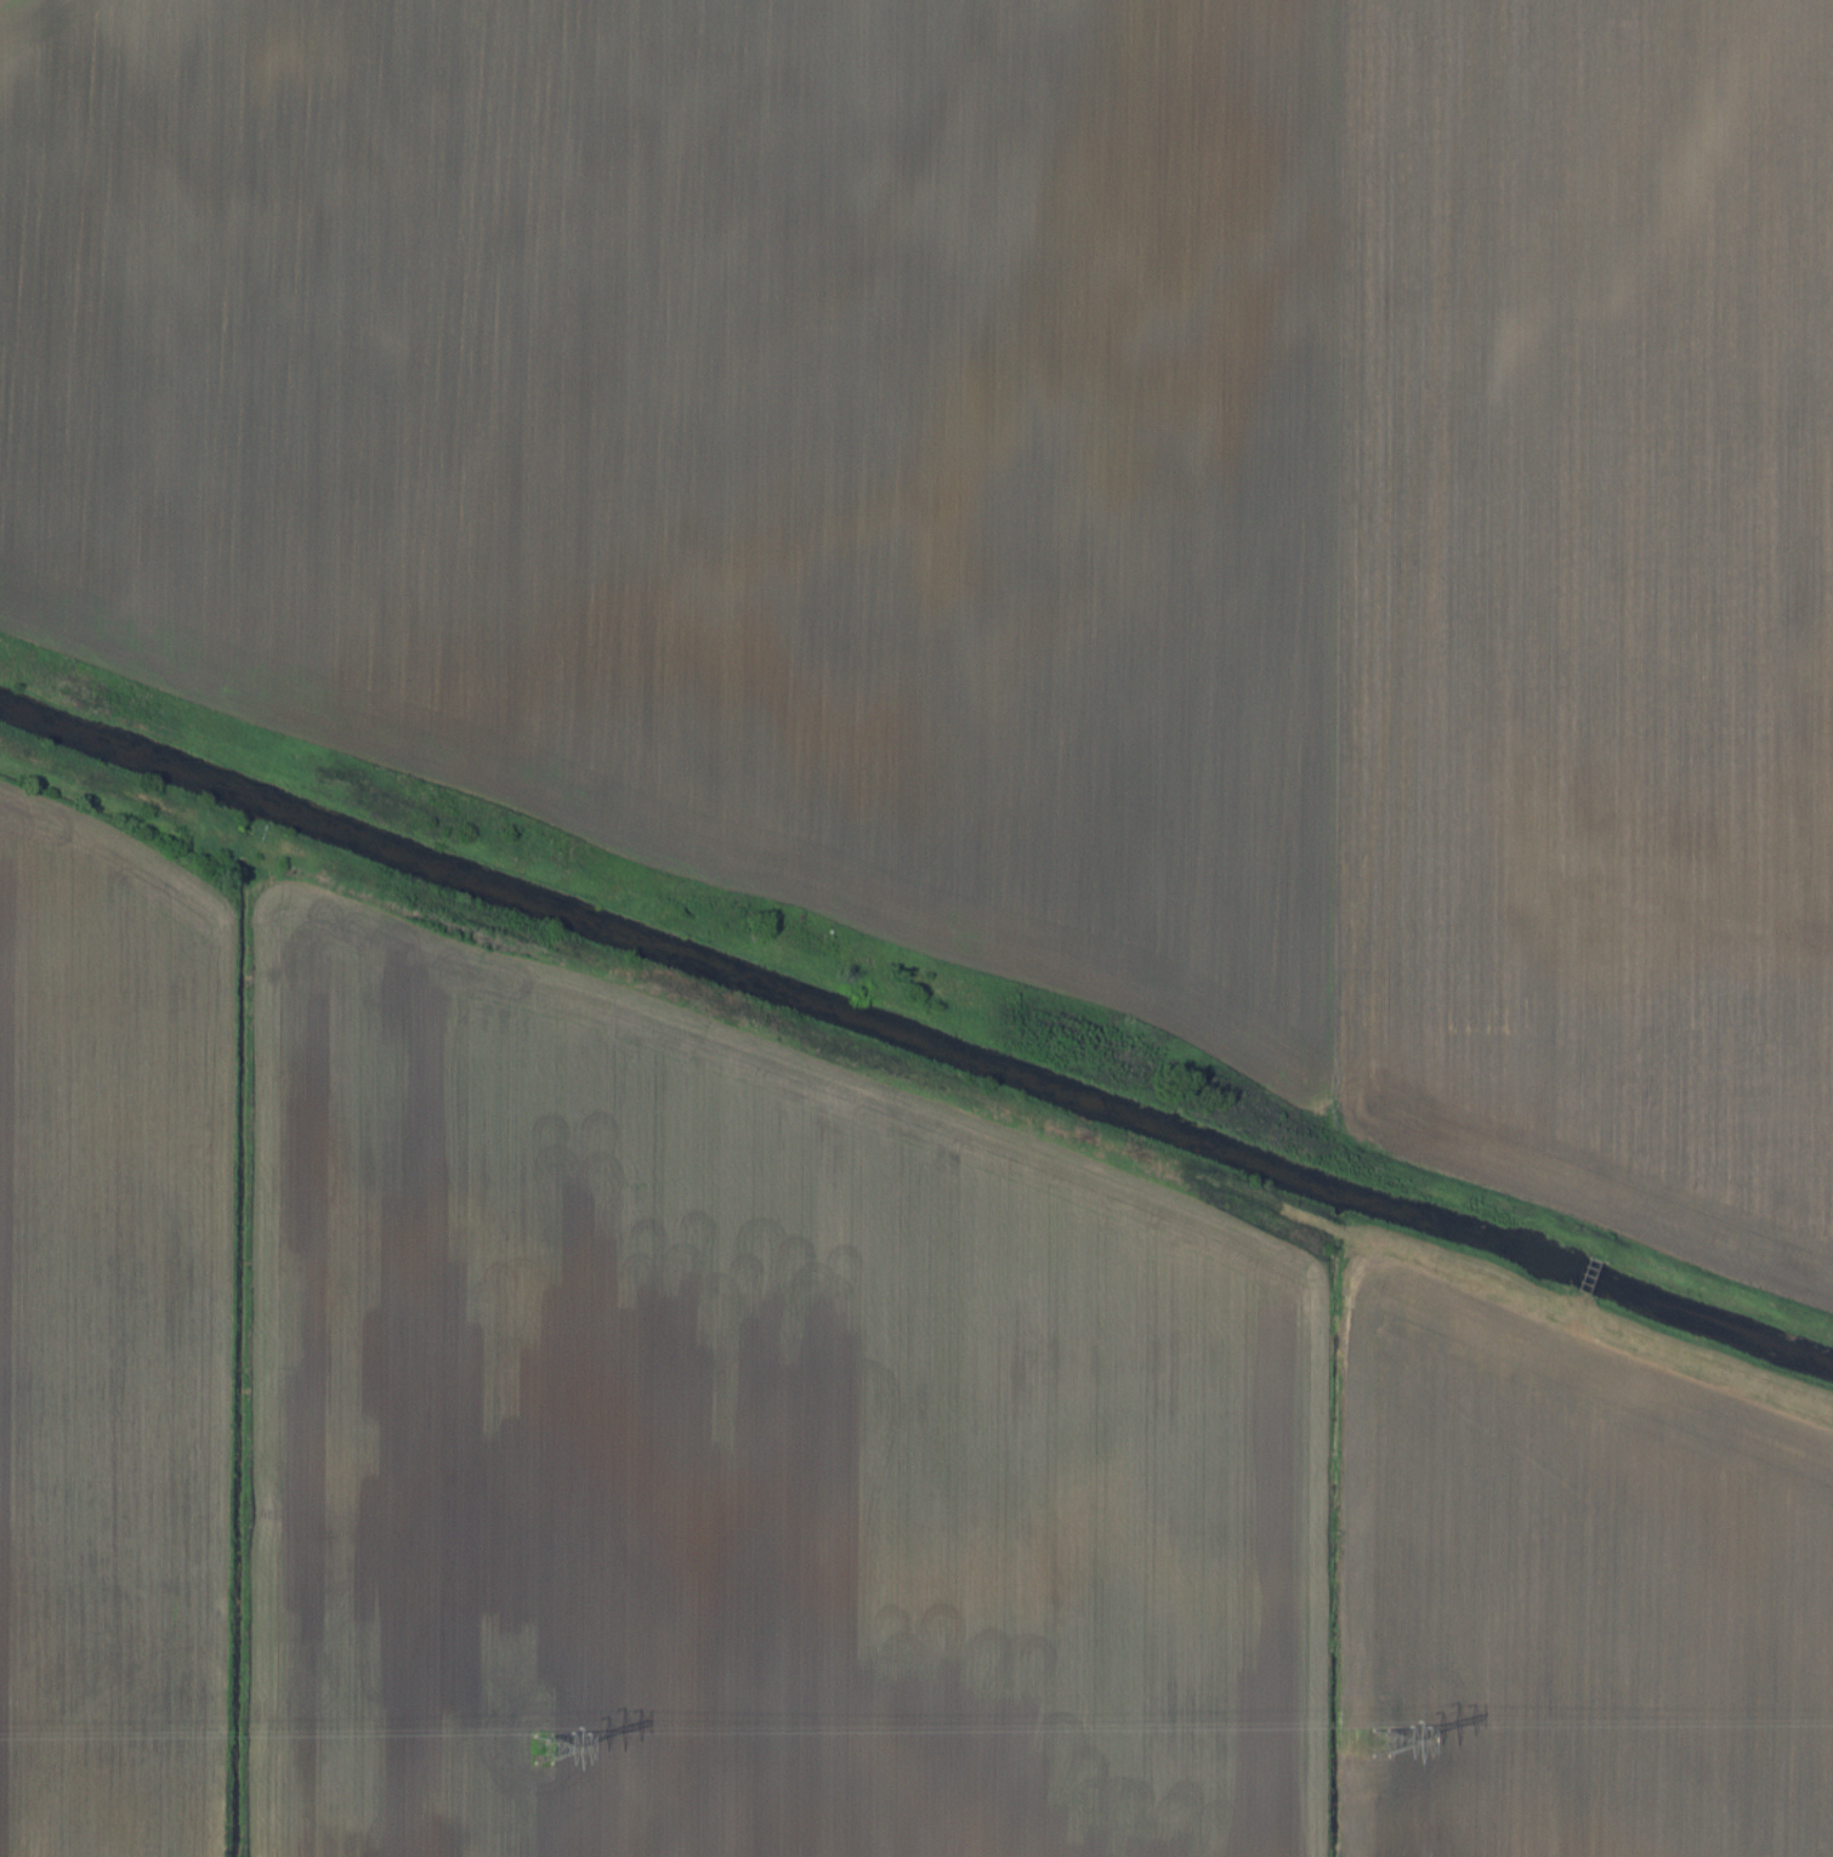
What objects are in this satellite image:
power tower: (1377, 1726)
power tower: (538, 1731)

